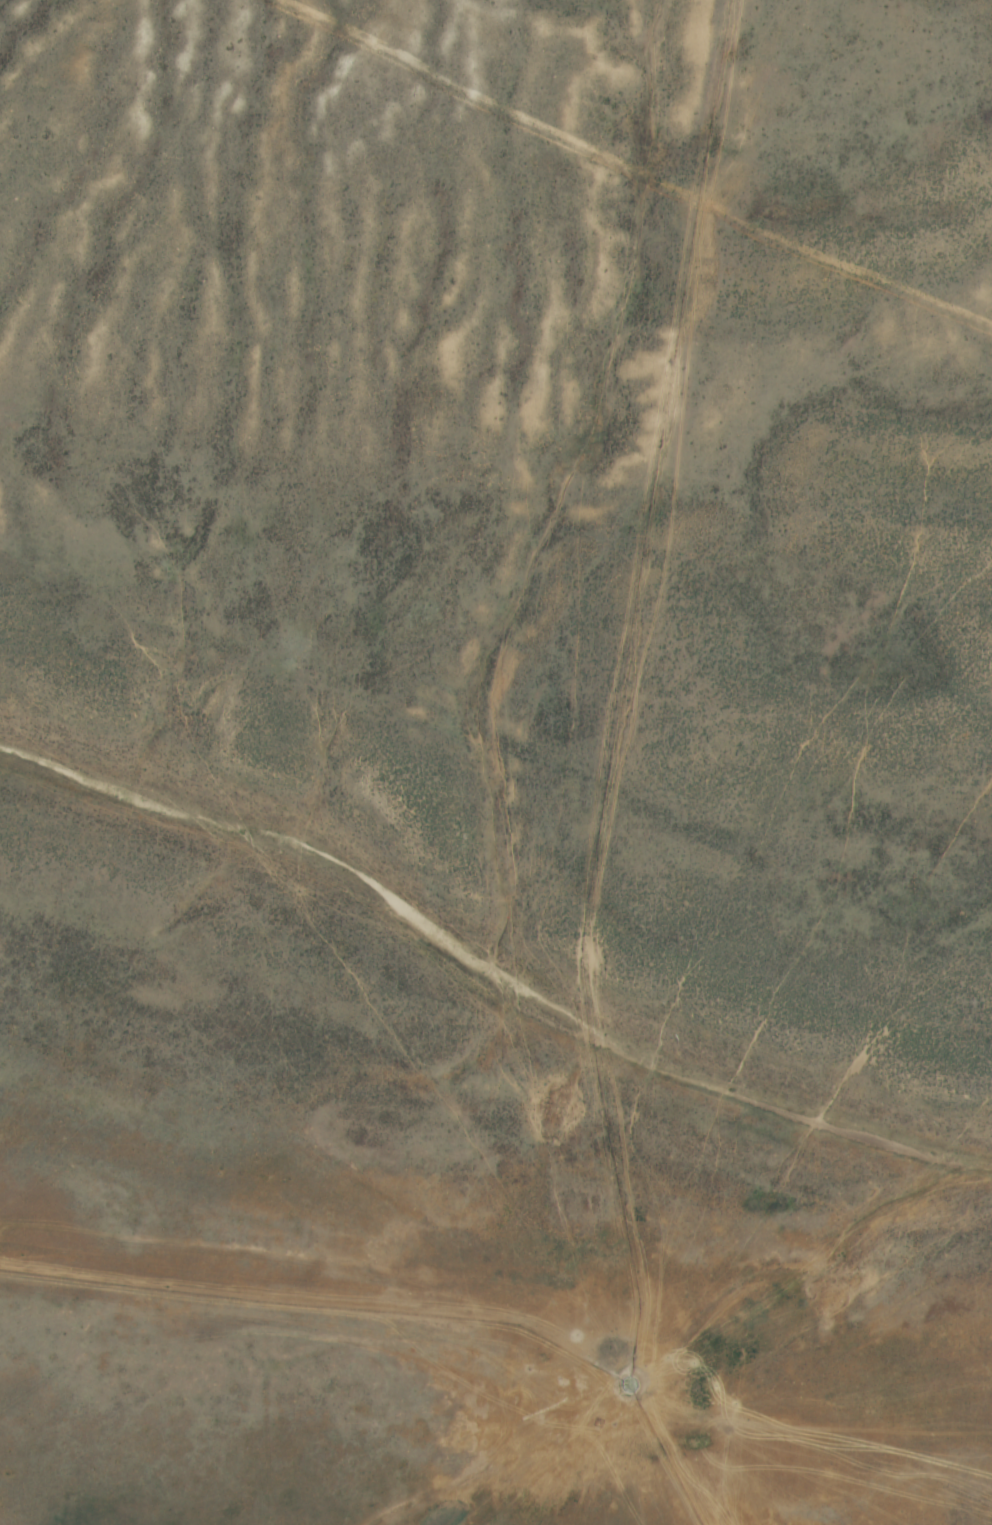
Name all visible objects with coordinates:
road: (6, 1196)
road: (420, 1262)

